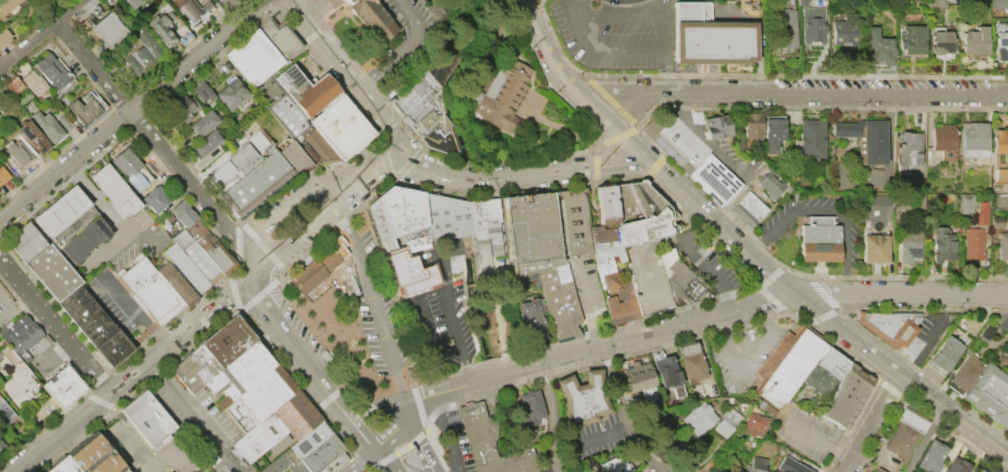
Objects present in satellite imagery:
building: (220, 0)
building: (338, 0)
building: (345, 1)
building: (132, 3)
building: (801, 3)
building: (936, 3)
road: (621, 4)
building: (999, 4)
building: (7, 5)
road: (578, 7)
road: (298, 8)
road: (315, 8)
building: (187, 9)
road: (287, 10)
road: (344, 10)
building: (372, 17)
building: (812, 27)
building: (161, 29)
building: (107, 30)
building: (784, 32)
parking lot: (614, 33)
building: (844, 33)
road: (42, 34)
road: (312, 34)
building: (4, 36)
building: (277, 37)
building: (911, 40)
building: (713, 41)
building: (974, 42)
building: (940, 43)
road: (660, 44)
building: (877, 48)
building: (1001, 48)
building: (140, 50)
road: (407, 51)
building: (251, 57)
building: (51, 72)
road: (666, 72)
road: (750, 75)
building: (289, 81)
road: (354, 82)
building: (33, 83)
parking lot: (888, 83)
building: (13, 85)
road: (572, 88)
building: (200, 91)
building: (230, 93)
road: (797, 93)
building: (314, 95)
road: (607, 99)
building: (504, 100)
road: (132, 109)
building: (174, 110)
building: (83, 111)
building: (429, 112)
building: (203, 122)
building: (63, 123)
road: (554, 124)
building: (750, 124)
building: (339, 125)
building: (715, 125)
building: (47, 126)
road: (387, 126)
building: (843, 128)
building: (771, 132)
road: (616, 135)
building: (34, 137)
building: (942, 137)
building: (971, 137)
building: (810, 138)
building: (871, 140)
building: (205, 141)
building: (1000, 143)
road: (651, 144)
road: (158, 146)
parking lot: (706, 146)
building: (318, 147)
building: (908, 147)
building: (306, 150)
building: (17, 153)
road: (222, 156)
building: (292, 156)
road: (724, 158)
building: (242, 159)
road: (384, 159)
road: (503, 162)
building: (124, 163)
road: (199, 163)
road: (406, 165)
road: (595, 165)
road: (653, 166)
building: (997, 173)
building: (3, 175)
building: (222, 176)
road: (494, 178)
building: (712, 179)
building: (255, 182)
road: (594, 182)
building: (769, 185)
building: (996, 188)
building: (112, 190)
building: (643, 197)
building: (153, 199)
building: (878, 201)
building: (1000, 201)
building: (965, 202)
building: (604, 203)
building: (623, 203)
road: (288, 208)
building: (746, 208)
road: (830, 208)
building: (181, 213)
building: (980, 213)
building: (63, 215)
building: (404, 215)
building: (481, 215)
building: (437, 216)
building: (460, 218)
road: (115, 220)
building: (572, 220)
park: (295, 221)
building: (997, 222)
building: (378, 224)
building: (647, 226)
road: (719, 226)
road: (309, 229)
building: (528, 231)
road: (143, 233)
parking lot: (762, 237)
building: (180, 238)
building: (84, 239)
road: (236, 239)
building: (821, 240)
parking lot: (139, 241)
building: (25, 242)
building: (972, 242)
road: (260, 244)
building: (941, 244)
building: (208, 245)
building: (908, 246)
building: (873, 247)
building: (1002, 247)
road: (607, 253)
building: (605, 254)
building: (328, 255)
road: (651, 255)
building: (200, 262)
road: (703, 263)
building: (184, 268)
parking lot: (711, 268)
building: (407, 270)
building: (51, 271)
building: (312, 274)
road: (769, 276)
building: (681, 279)
parking lot: (583, 281)
building: (175, 283)
building: (149, 289)
road: (232, 291)
road: (899, 292)
road: (822, 293)
road: (259, 294)
road: (393, 295)
building: (558, 299)
building: (629, 300)
road: (771, 300)
parking lot: (117, 304)
road: (374, 304)
park: (352, 306)
parking lot: (374, 307)
parking lot: (8, 308)
road: (14, 309)
building: (615, 309)
parking lot: (442, 314)
road: (499, 314)
road: (137, 315)
road: (821, 317)
road: (216, 322)
building: (529, 322)
road: (855, 322)
building: (1003, 323)
building: (92, 325)
building: (13, 326)
building: (892, 326)
road: (57, 327)
road: (669, 328)
building: (986, 333)
parking lot: (932, 335)
building: (23, 338)
road: (455, 339)
building: (225, 340)
building: (37, 345)
road: (296, 349)
parking lot: (743, 352)
road: (847, 354)
building: (945, 354)
road: (60, 355)
road: (921, 355)
road: (752, 358)
parking lot: (47, 359)
building: (1002, 359)
building: (830, 361)
building: (692, 362)
building: (247, 364)
building: (788, 367)
building: (193, 368)
building: (664, 370)
road: (110, 371)
building: (965, 371)
road: (136, 373)
road: (900, 375)
road: (545, 378)
road: (83, 379)
building: (638, 379)
building: (818, 379)
building: (18, 381)
road: (473, 383)
building: (61, 385)
road: (889, 389)
road: (333, 394)
building: (844, 395)
building: (990, 395)
building: (258, 397)
building: (581, 397)
road: (422, 407)
building: (530, 407)
road: (371, 408)
building: (765, 408)
road: (919, 408)
building: (4, 413)
building: (146, 417)
road: (552, 417)
road: (192, 418)
building: (698, 419)
road: (627, 420)
building: (726, 422)
road: (869, 422)
parking lot: (201, 423)
building: (754, 425)
building: (273, 427)
road: (392, 432)
road: (445, 432)
building: (660, 432)
parking lot: (811, 433)
building: (905, 433)
road: (357, 437)
road: (466, 437)
parking lot: (600, 438)
building: (308, 439)
road: (414, 439)
parking lot: (458, 440)
road: (820, 440)
road: (580, 441)
building: (0, 443)
building: (489, 443)
road: (398, 450)
building: (320, 453)
building: (95, 457)
building: (931, 457)
building: (279, 461)
road: (380, 461)
parking lot: (547, 461)
road: (362, 462)
building: (332, 463)
building: (613, 465)
building: (756, 465)
building: (63, 466)
road: (537, 466)
building: (790, 466)
building: (956, 466)
road: (23, 469)
building: (877, 470)
building: (524, 471)
building: (978, 471)

